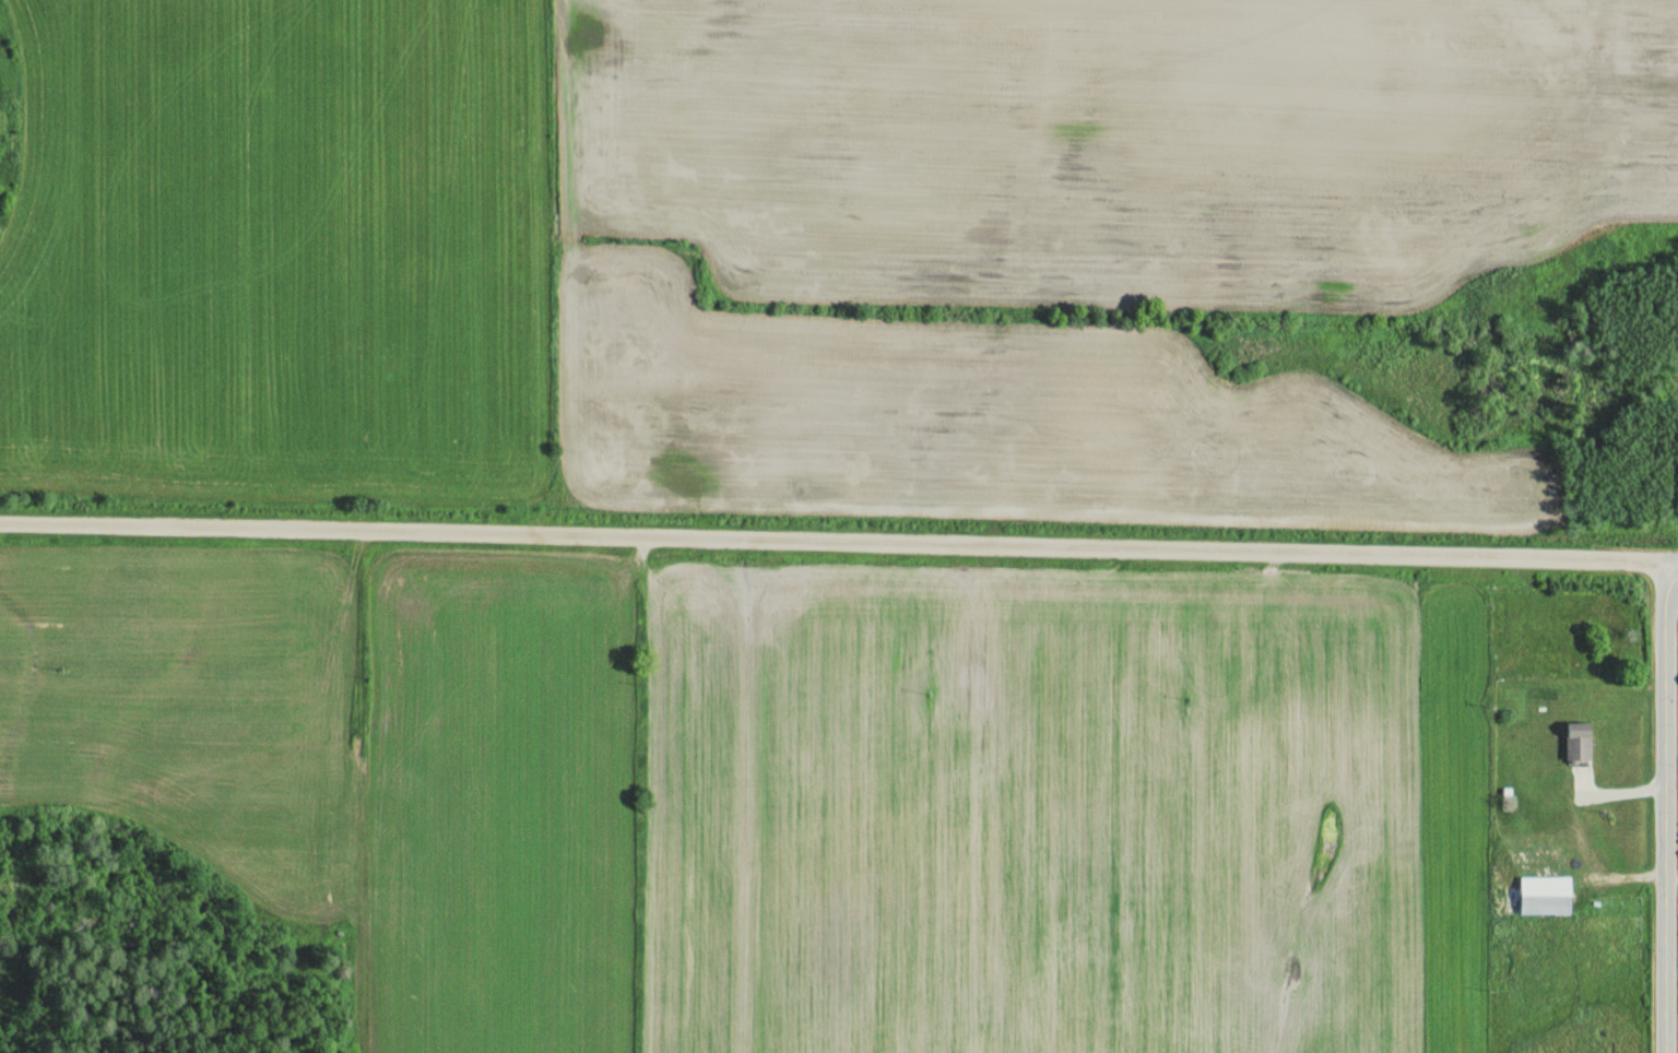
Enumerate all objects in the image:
road: (835, 541)
road: (1675, 558)
building: (1576, 741)
road: (1671, 805)
building: (1543, 887)

